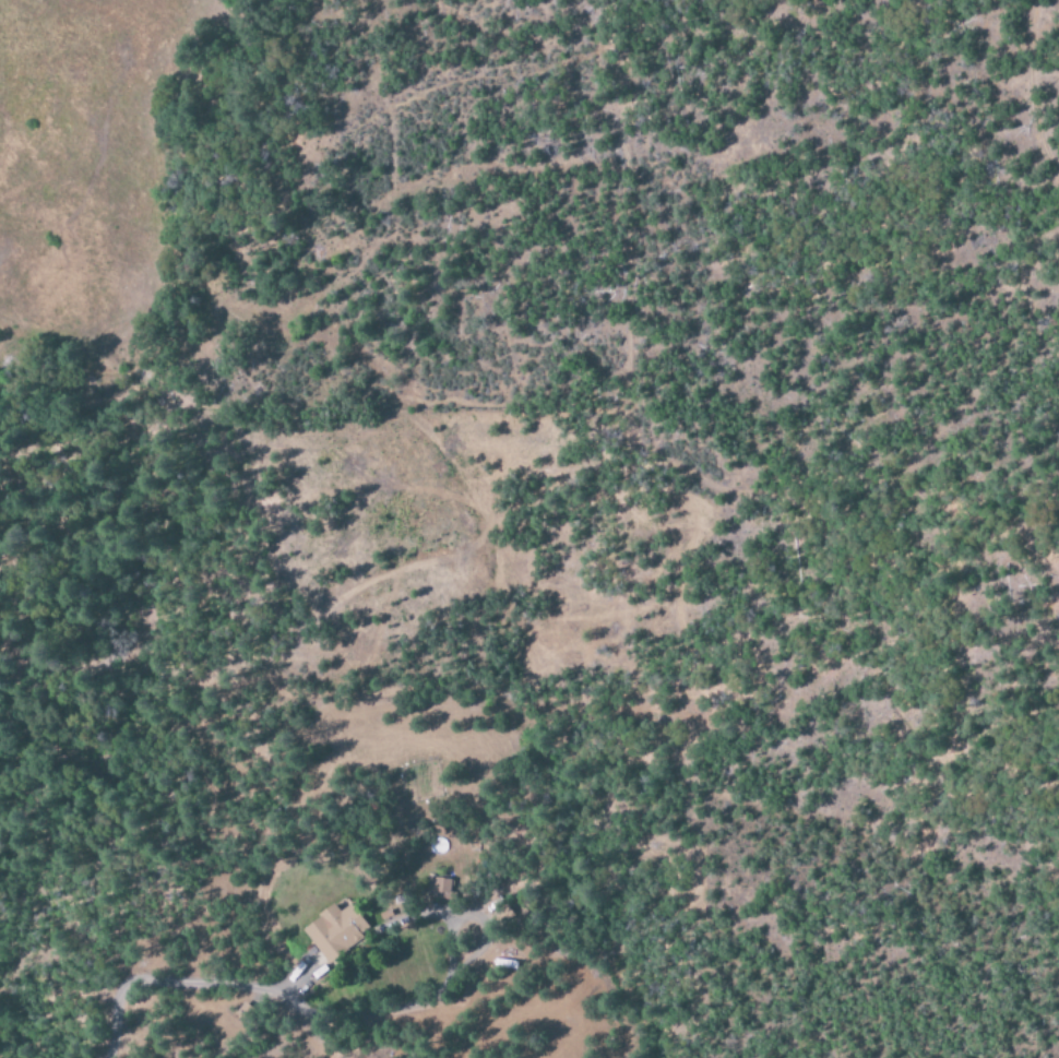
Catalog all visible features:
building: (438, 889)
building: (336, 931)

